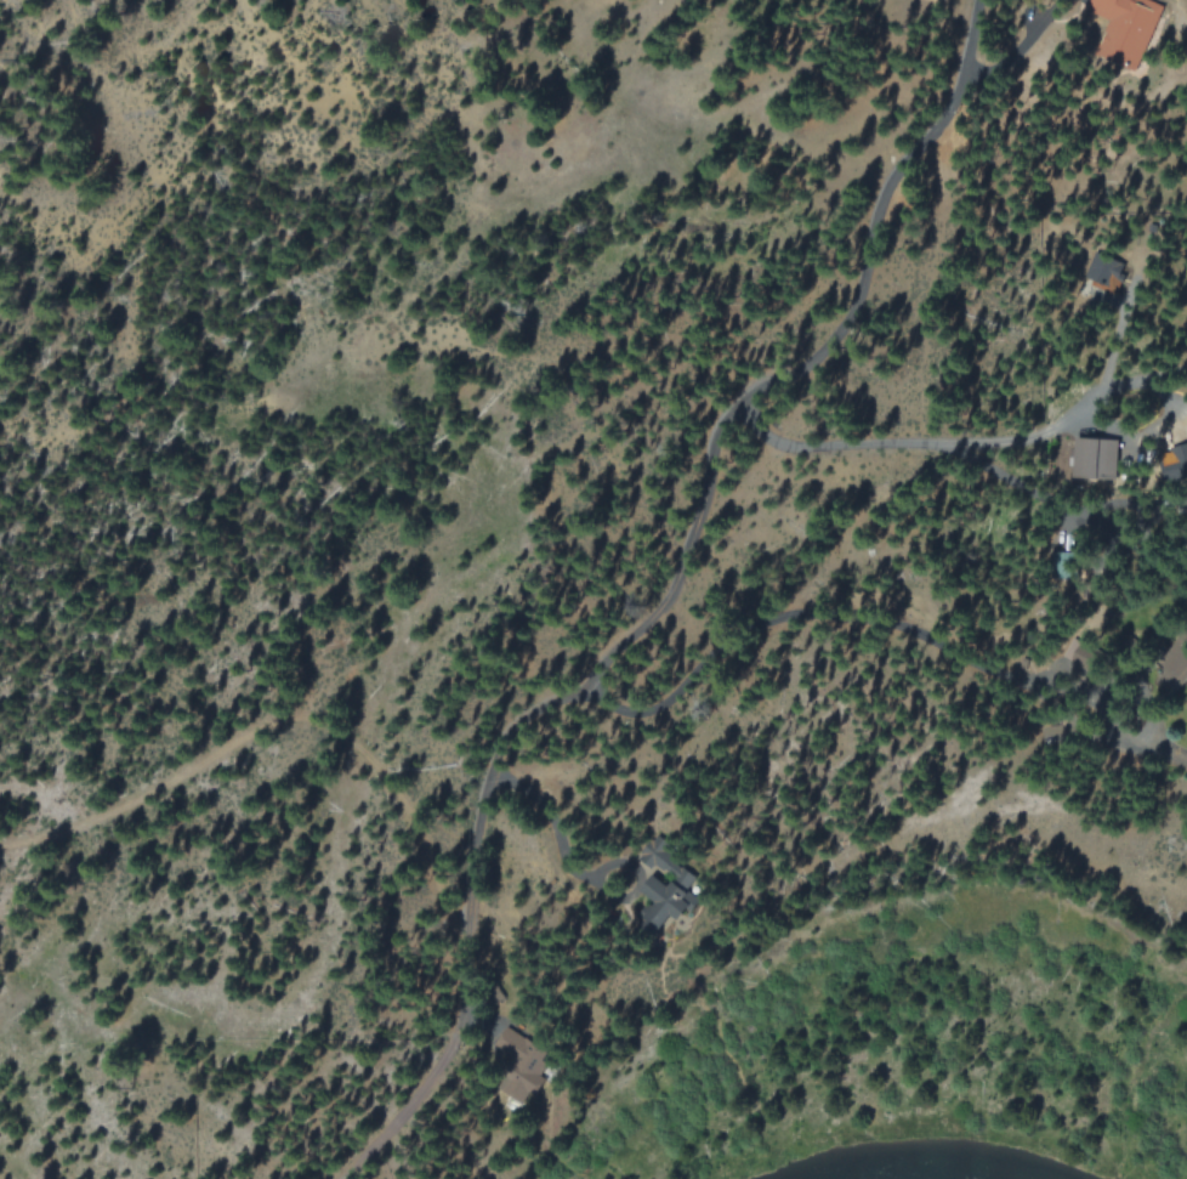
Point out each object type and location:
building: (1129, 30)
road: (992, 446)
building: (1101, 454)
road: (698, 503)
road: (873, 625)
road: (252, 744)
building: (670, 884)
building: (527, 1059)
road: (410, 1105)

